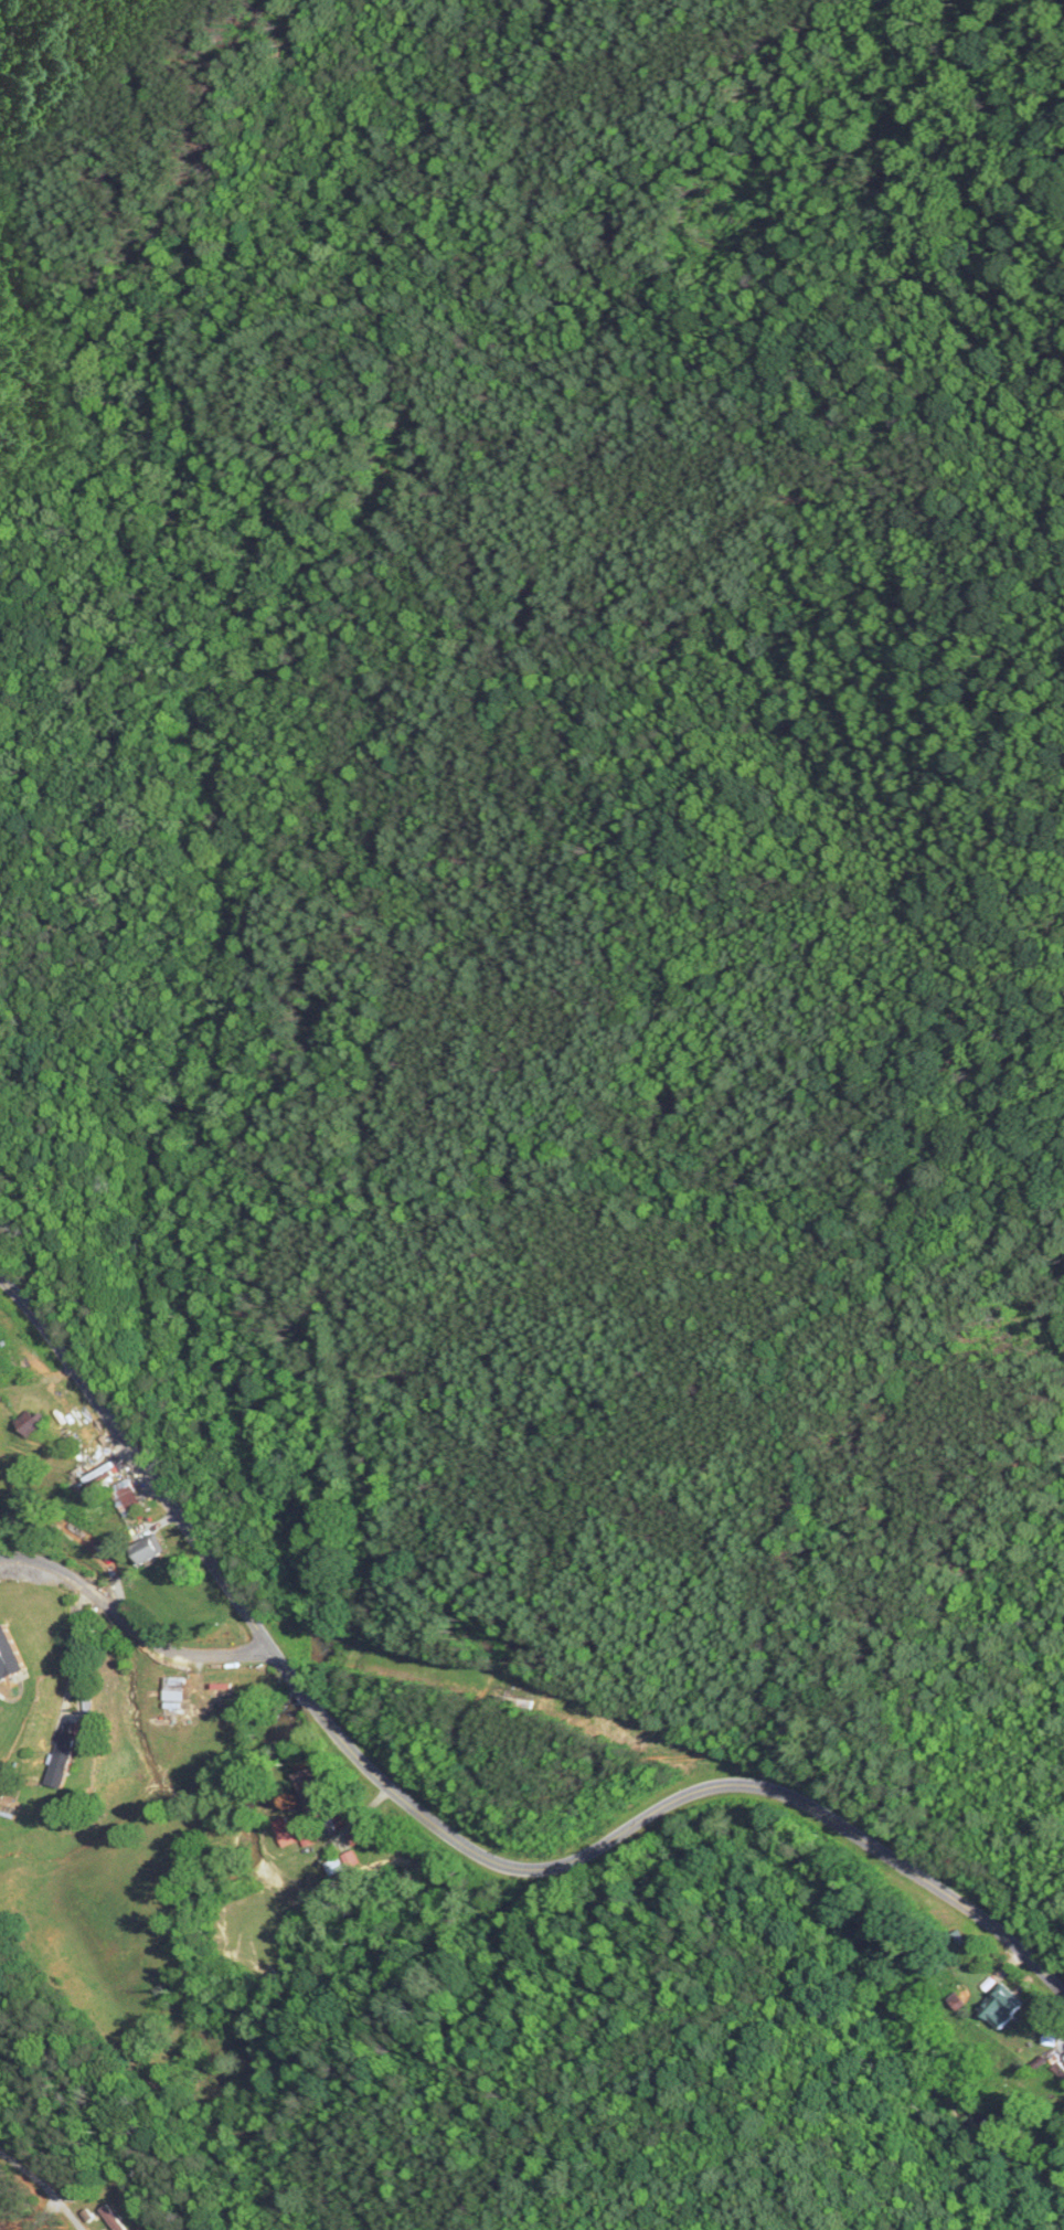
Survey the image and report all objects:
river: (175, 1125)
building: (32, 1422)
building: (127, 1495)
building: (149, 1549)
road: (128, 1625)
building: (12, 1653)
building: (174, 1693)
building: (525, 1706)
building: (64, 1753)
building: (313, 1795)
road: (446, 1833)
river: (715, 1835)
building: (357, 1838)
building: (338, 1866)
building: (1003, 2006)
building: (1060, 2070)
road: (44, 2186)
building: (114, 2218)

